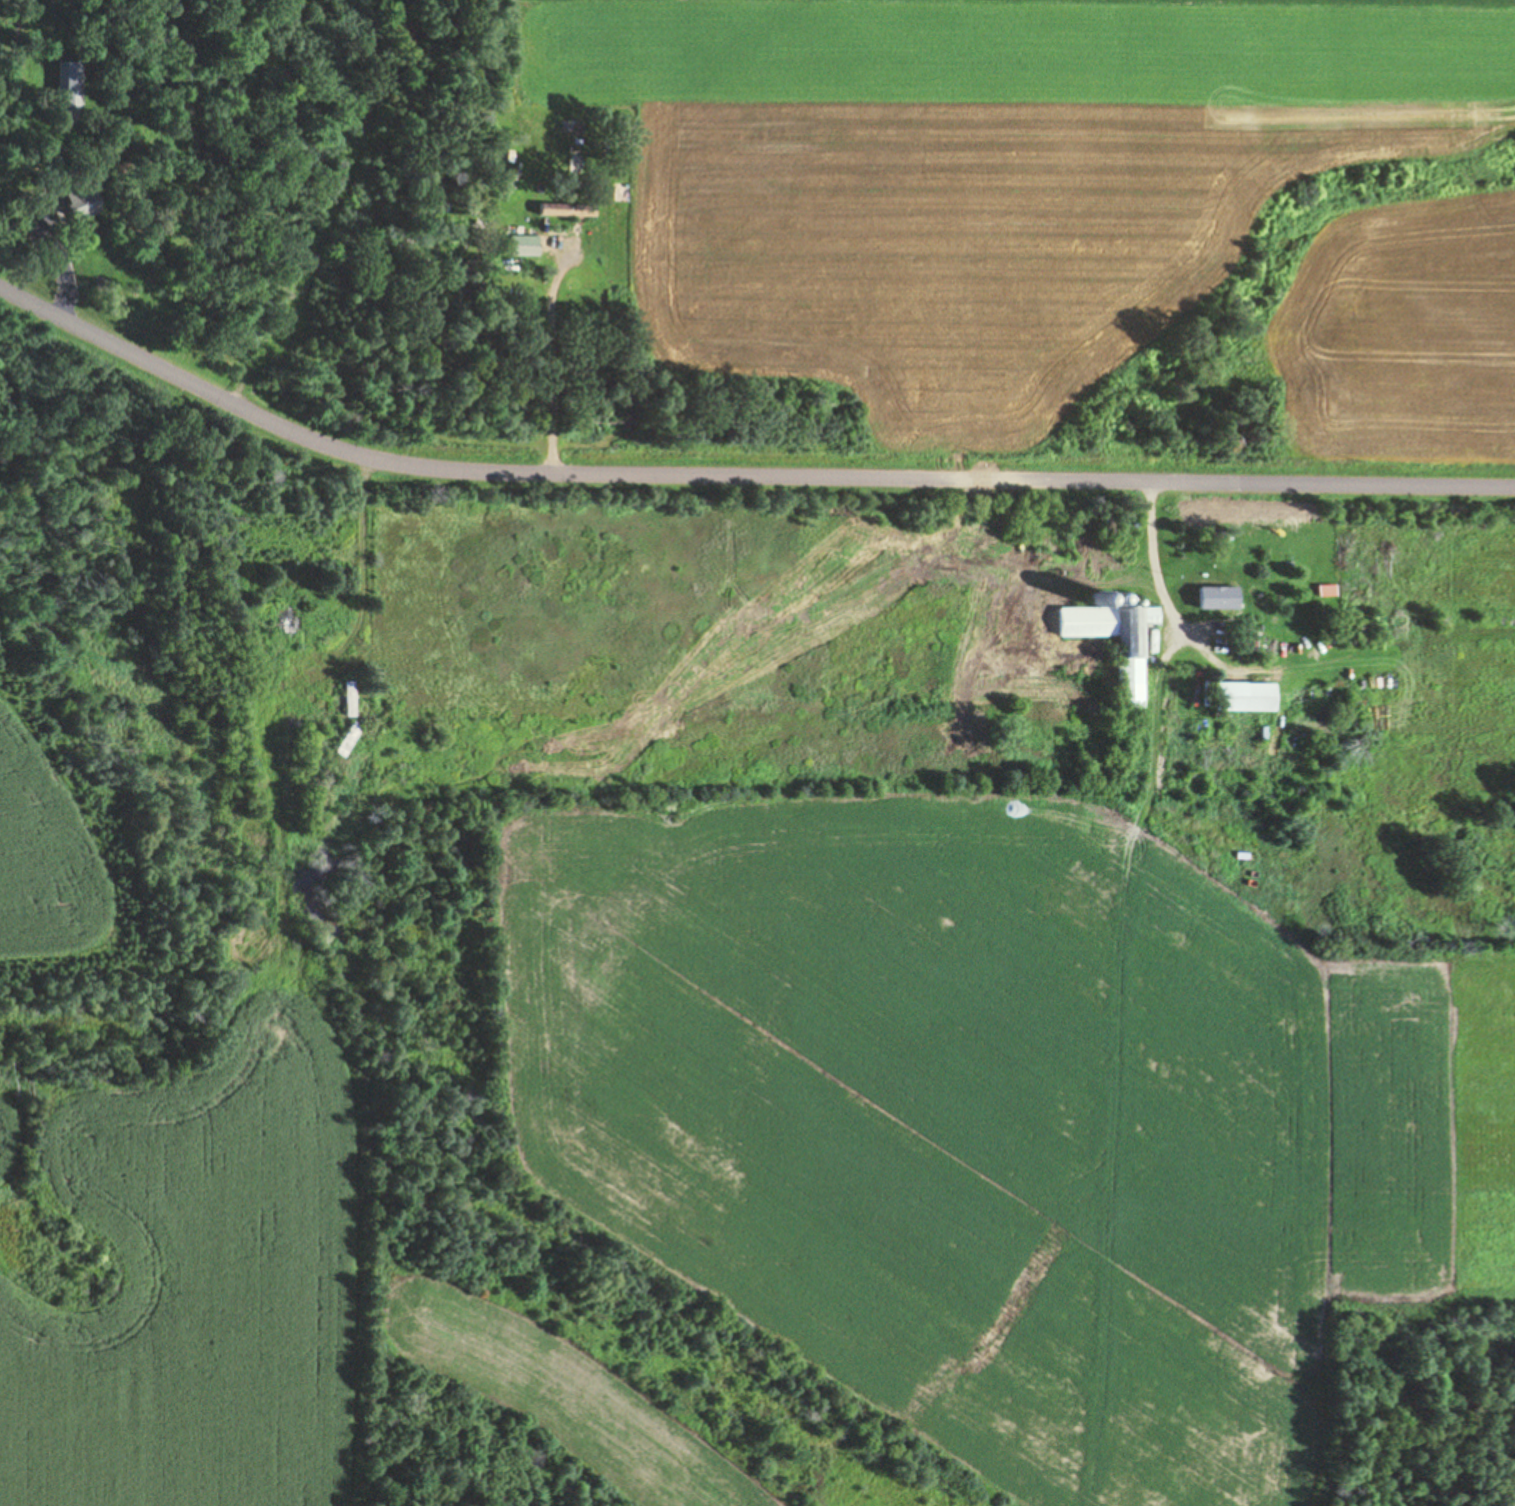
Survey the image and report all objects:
building: (69, 84)
building: (80, 198)
building: (523, 246)
road: (740, 450)
building: (1327, 591)
building: (1231, 597)
building: (293, 629)
building: (1119, 643)
building: (1246, 698)
building: (351, 699)
building: (349, 740)

